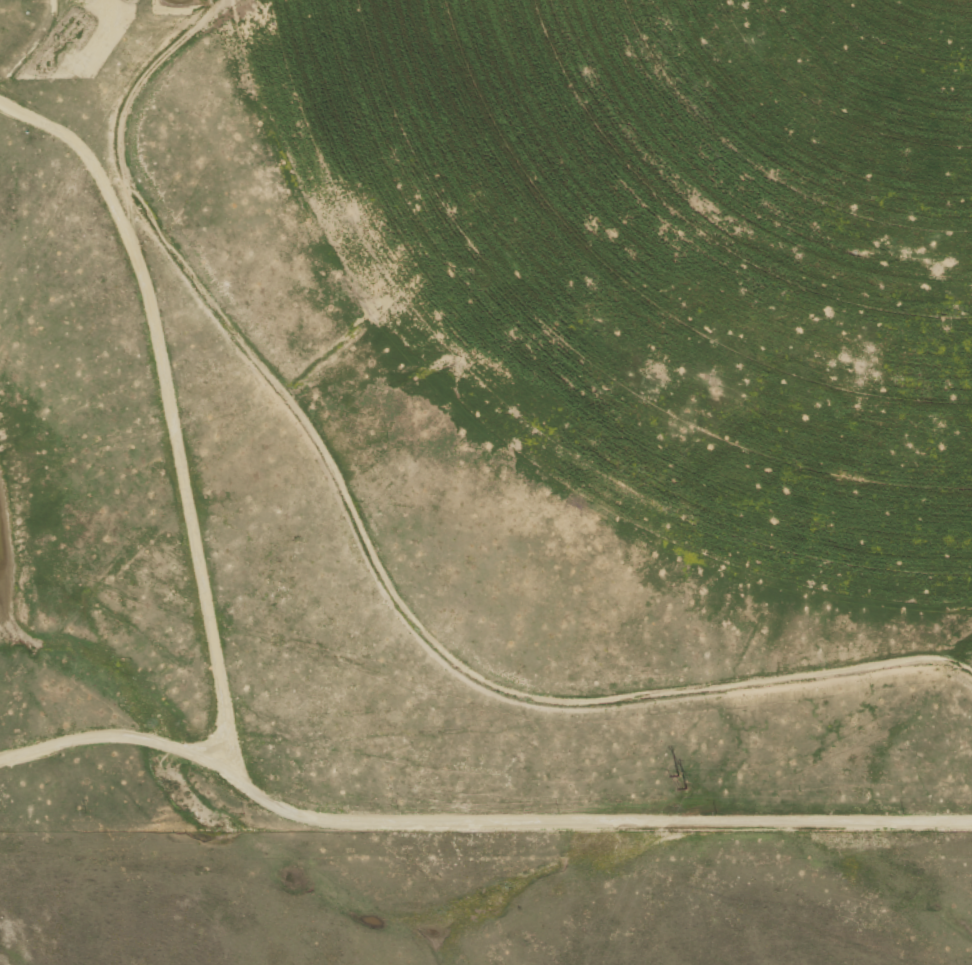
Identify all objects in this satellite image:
road: (240, 700)
power tower: (683, 781)

